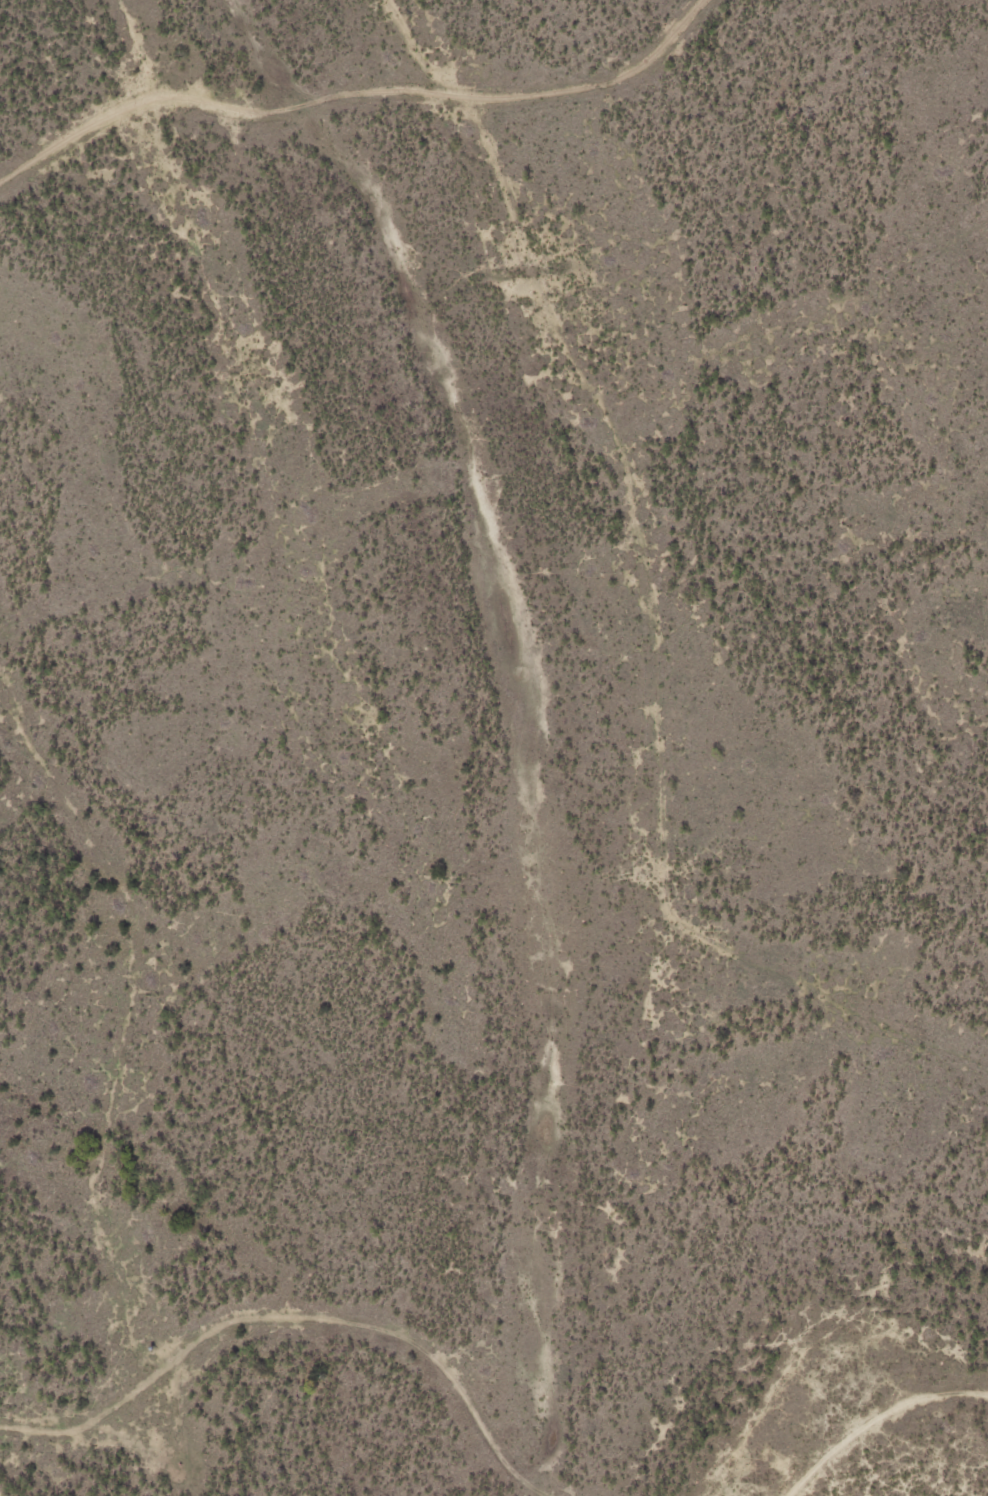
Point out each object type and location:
road: (171, 92)
road: (170, 1359)
road: (896, 1451)

